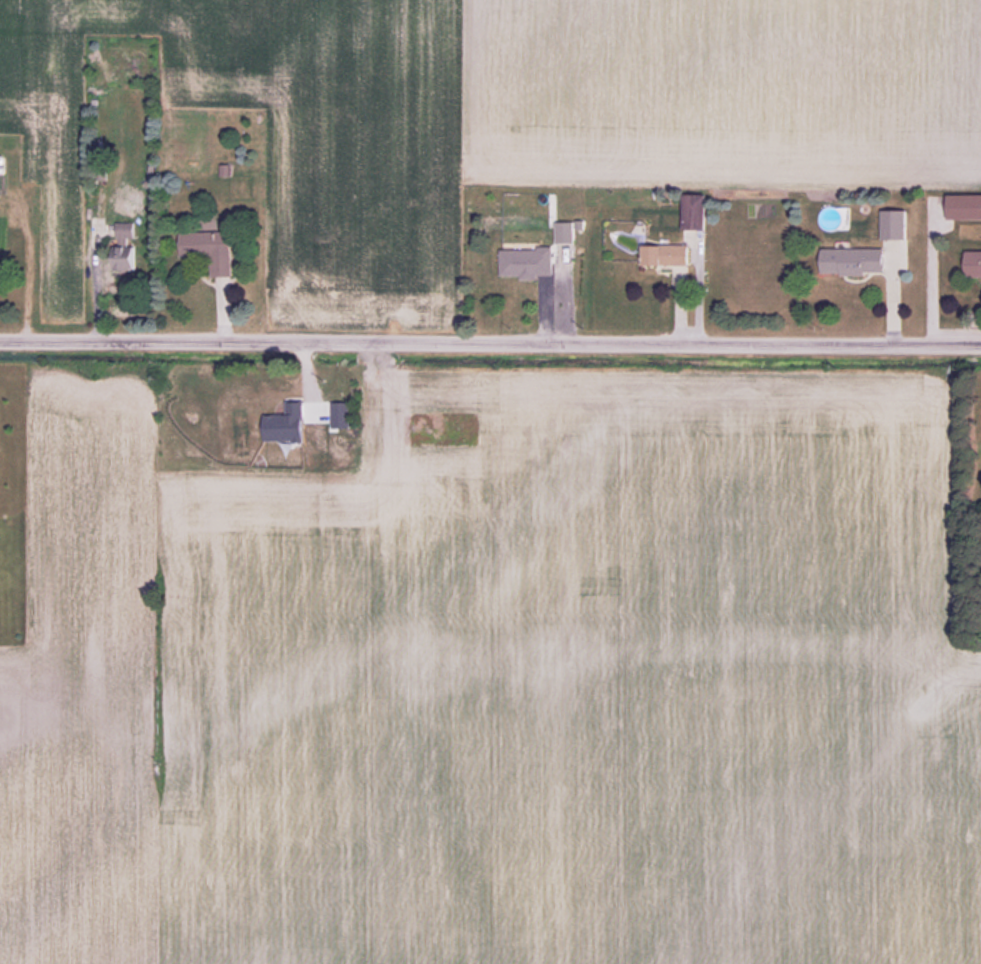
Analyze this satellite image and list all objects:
building: (964, 207)
building: (694, 212)
building: (894, 225)
building: (565, 232)
building: (125, 246)
building: (211, 250)
building: (666, 255)
building: (854, 261)
building: (527, 262)
building: (973, 263)
road: (490, 338)
building: (342, 414)
building: (287, 424)

